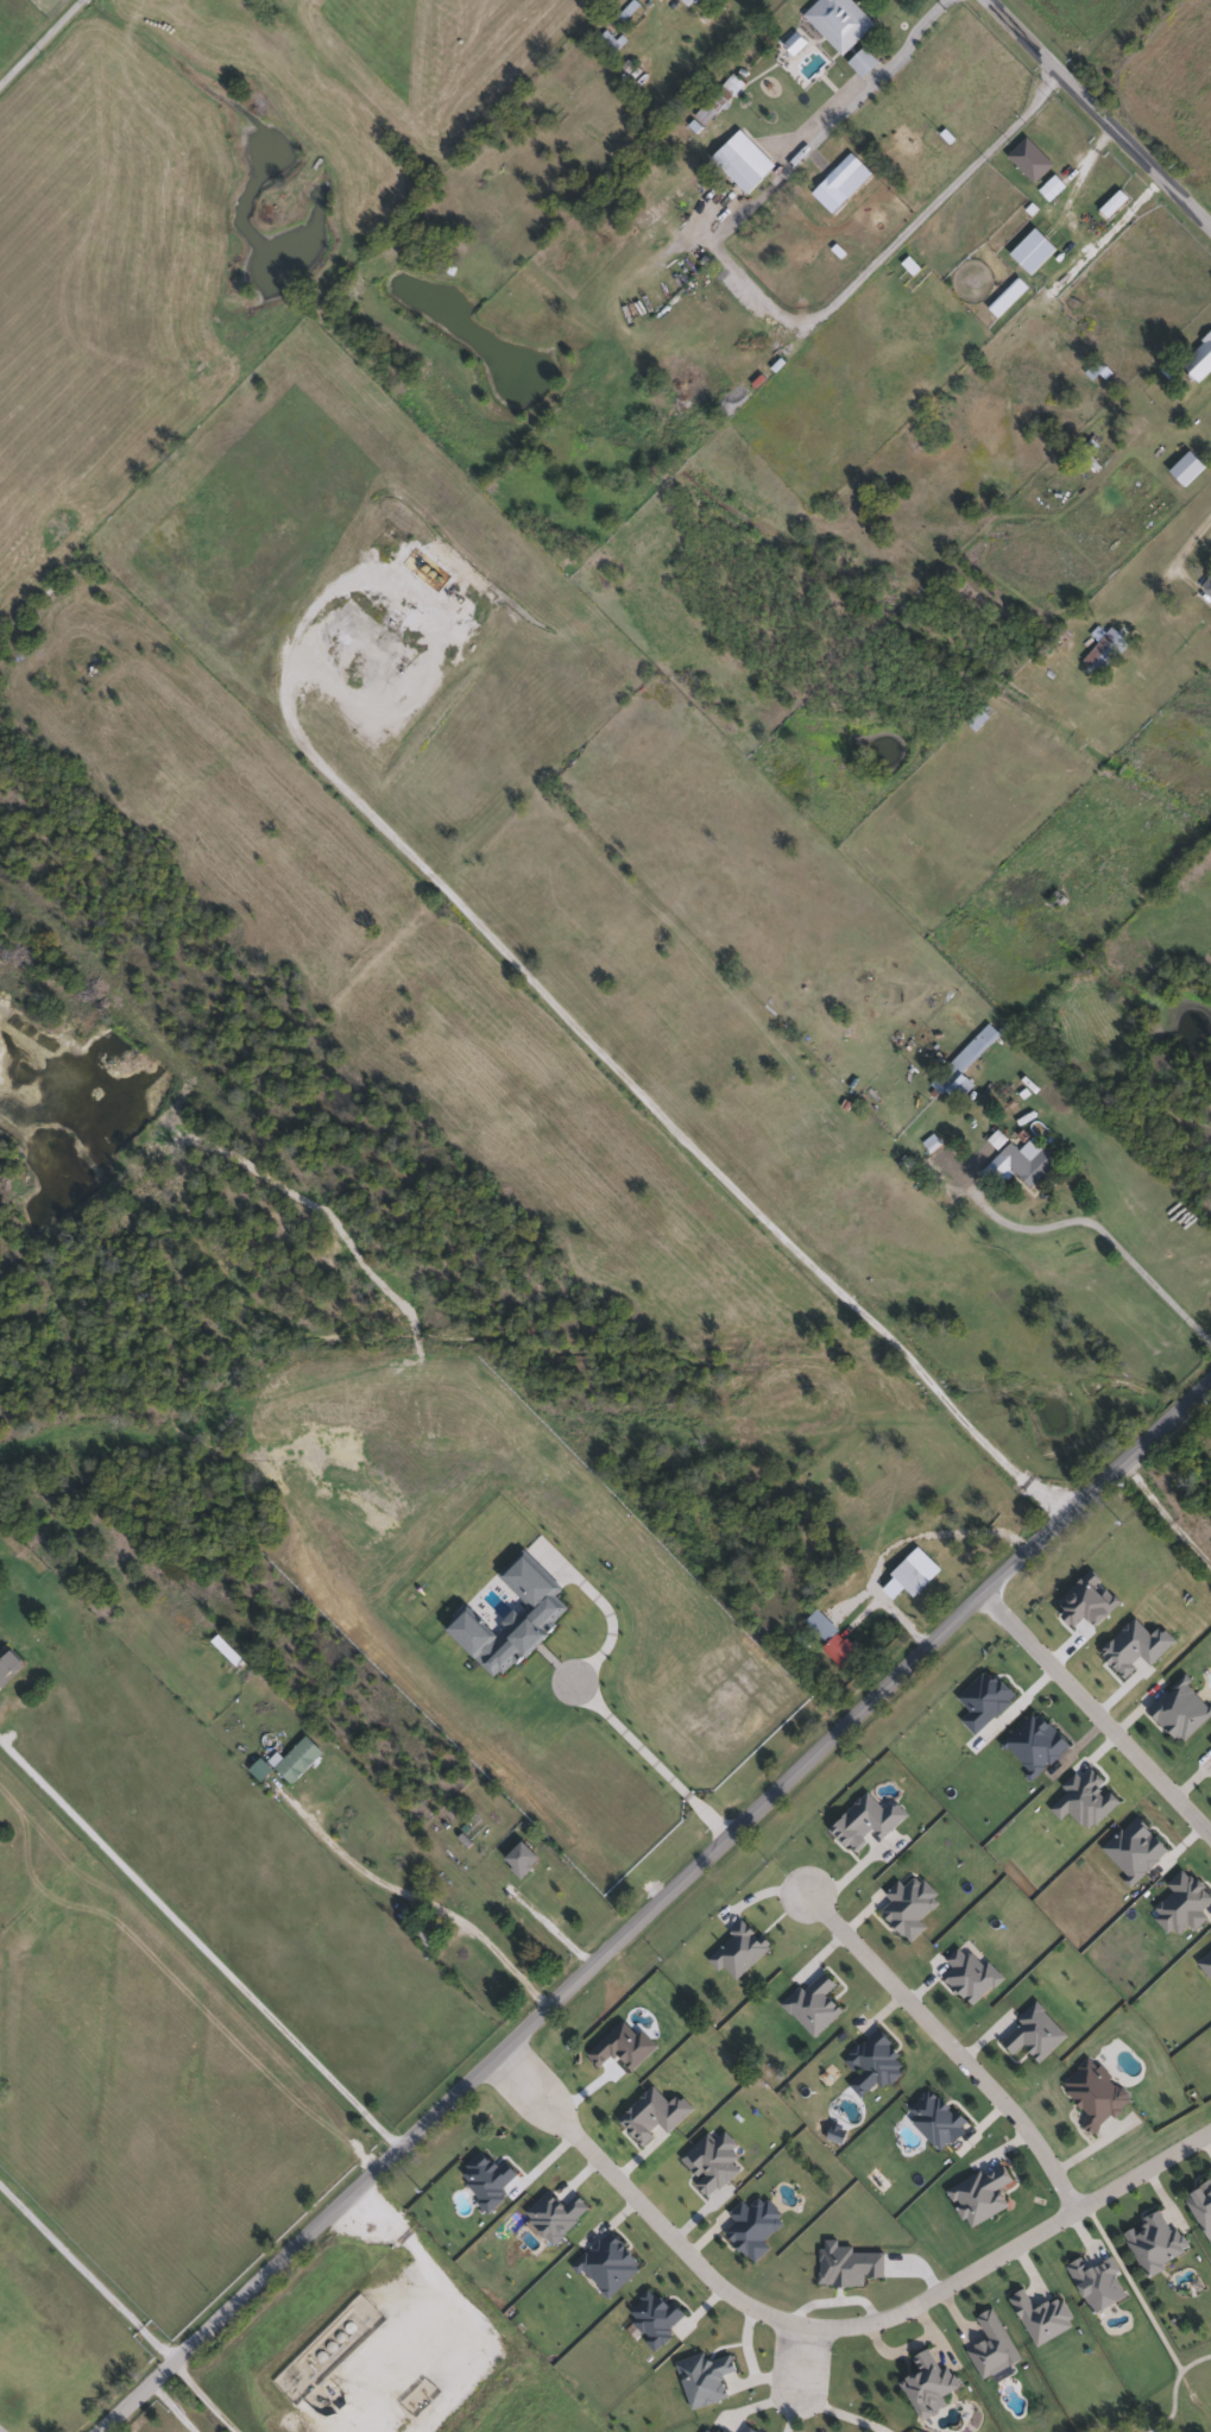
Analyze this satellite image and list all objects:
building: (838, 23)
road: (38, 40)
building: (794, 44)
building: (862, 62)
building: (712, 105)
road: (1102, 107)
building: (945, 136)
building: (1028, 159)
building: (734, 168)
building: (1051, 188)
building: (1112, 203)
building: (1032, 251)
road: (769, 297)
building: (1007, 297)
building: (1198, 359)
building: (1186, 468)
road: (1174, 562)
building: (1207, 585)
building: (1104, 649)
building: (979, 716)
road: (570, 1025)
building: (963, 1065)
building: (1021, 1164)
road: (1106, 1235)
road: (1167, 1518)
building: (908, 1576)
building: (833, 1642)
building: (8, 1667)
road: (603, 1703)
building: (705, 1709)
building: (1178, 1709)
road: (1098, 1715)
building: (1037, 1744)
building: (295, 1759)
building: (1073, 1772)
building: (519, 1859)
building: (504, 1891)
road: (428, 1897)
building: (1182, 1903)
building: (910, 1905)
road: (660, 1910)
road: (203, 1942)
building: (970, 1978)
building: (814, 2005)
building: (1036, 2031)
road: (950, 2044)
building: (879, 2062)
building: (1095, 2091)
building: (936, 2118)
building: (980, 2192)
building: (1203, 2204)
building: (756, 2225)
building: (1158, 2243)
building: (612, 2263)
building: (850, 2267)
road: (90, 2272)
road: (1140, 2306)
building: (1039, 2316)
road: (827, 2326)
building: (992, 2346)
road: (802, 2361)
road: (272, 2380)
building: (928, 2386)
road: (1177, 2389)
road: (213, 2398)
road: (172, 2411)
building: (751, 2428)
building: (712, 2430)
road: (0, 2431)
building: (721, 2431)

